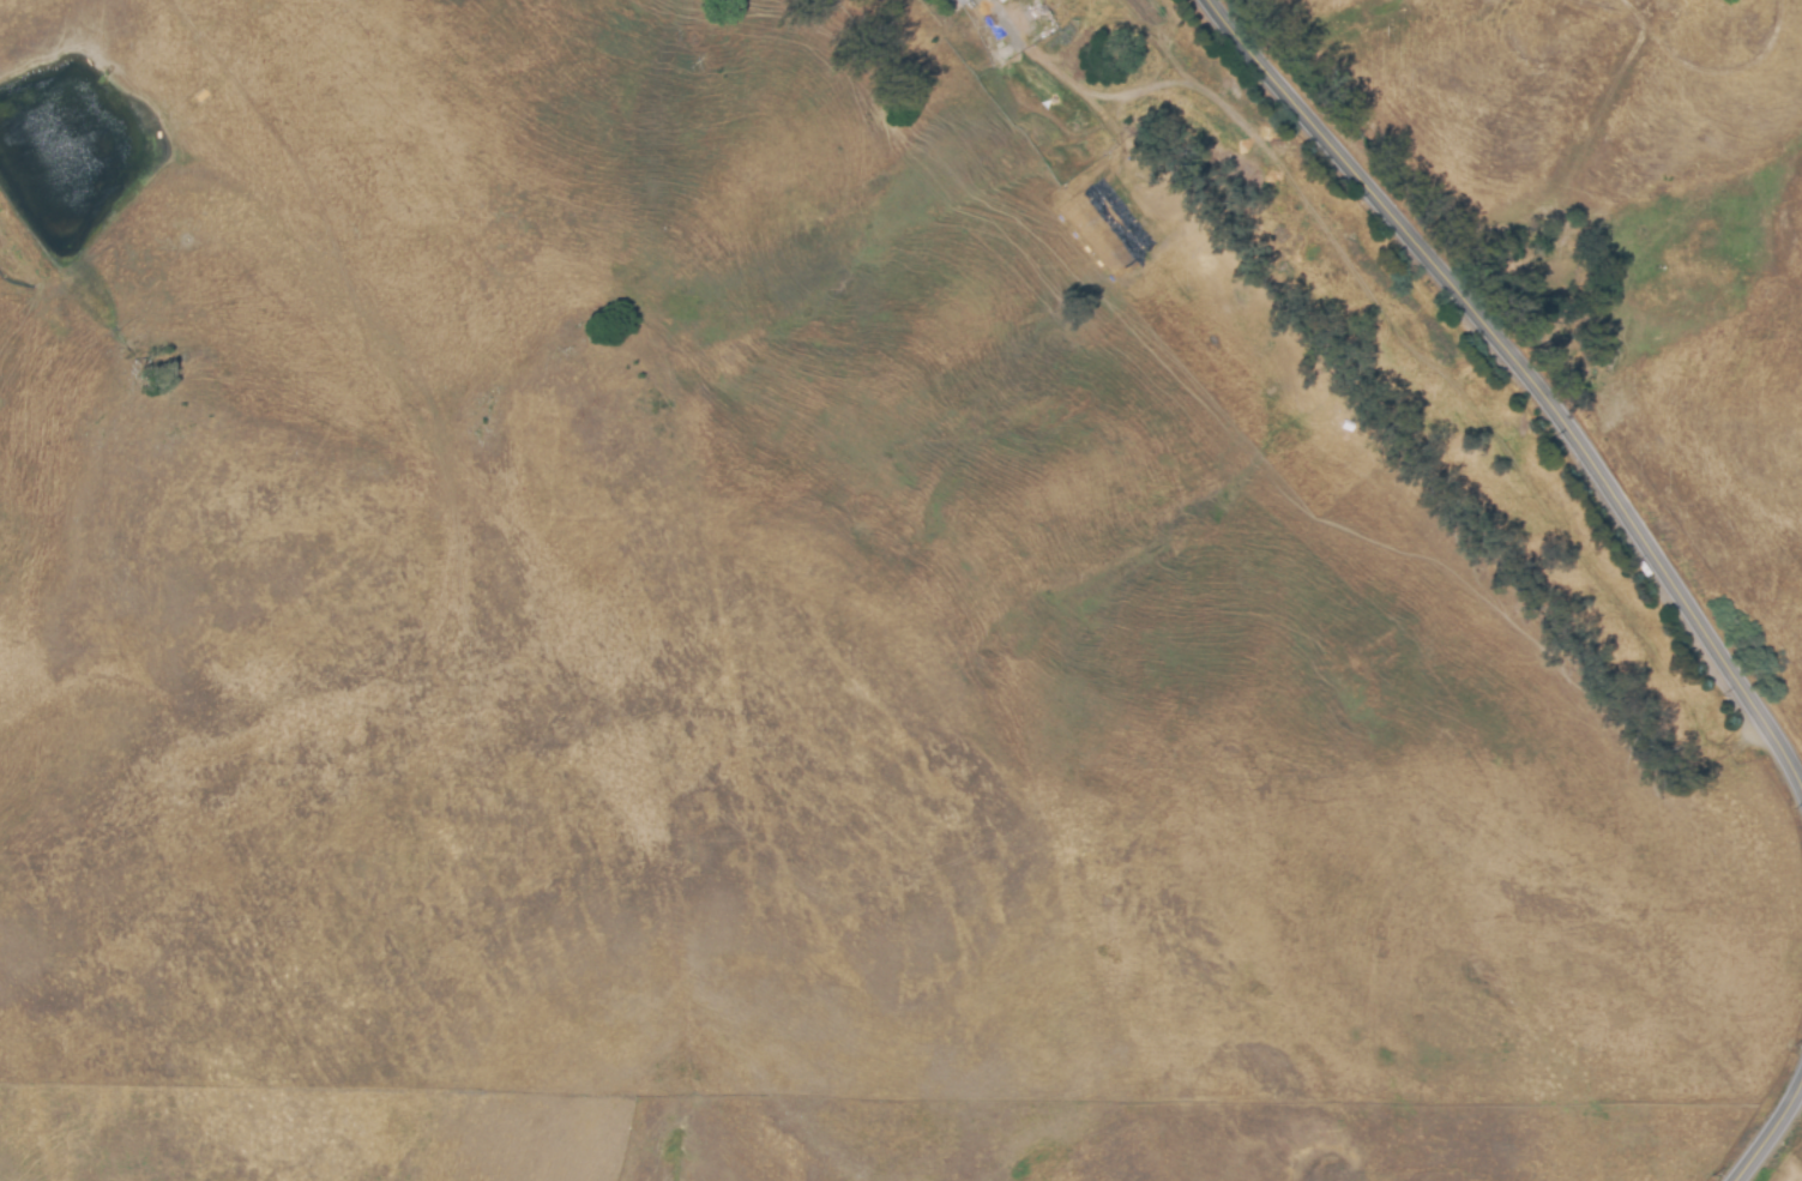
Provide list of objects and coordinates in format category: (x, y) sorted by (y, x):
building: (995, 1)
road: (1524, 380)
road: (1766, 1131)

